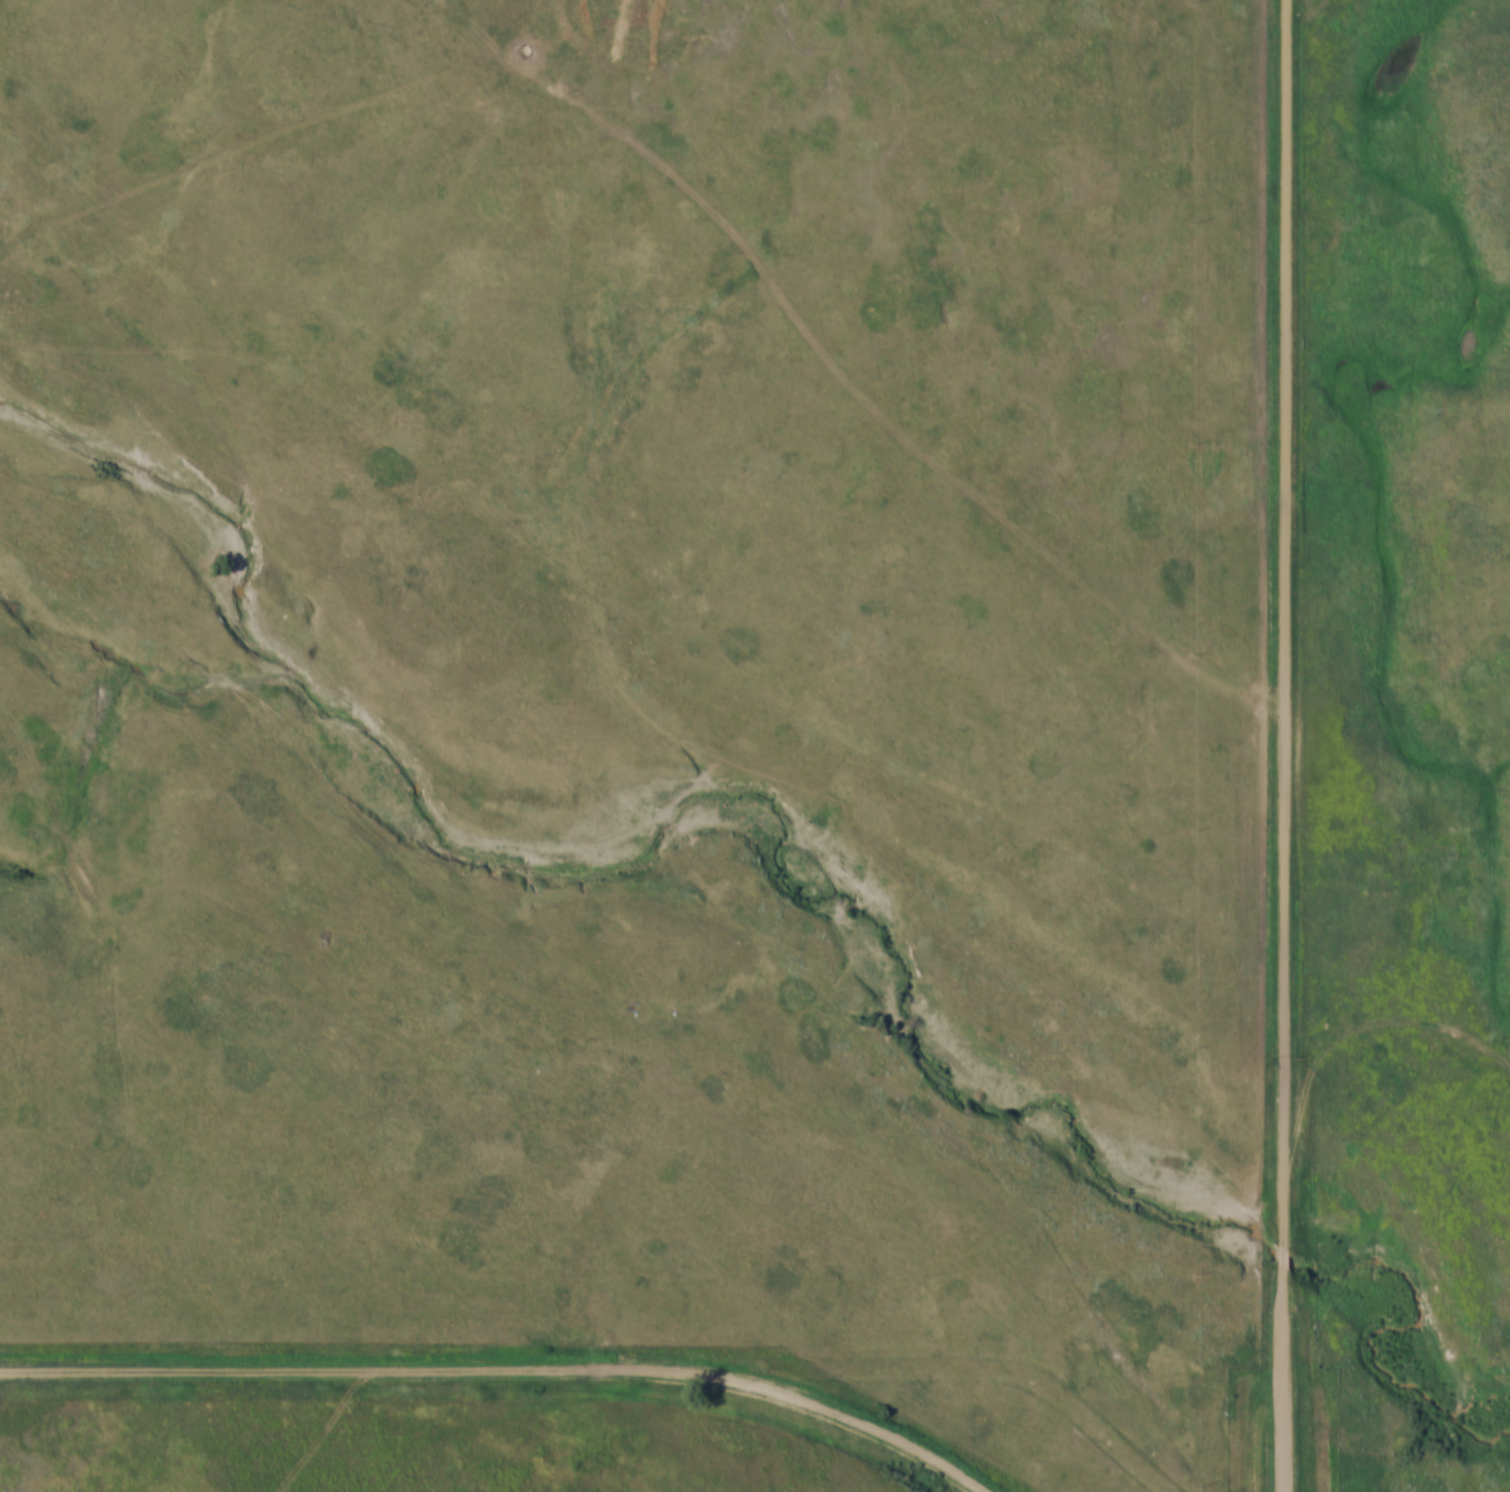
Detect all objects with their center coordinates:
road: (845, 377)
road: (1288, 616)
road: (1354, 1030)
road: (1283, 1241)
road: (1283, 1371)
road: (497, 1378)
road: (322, 1435)

